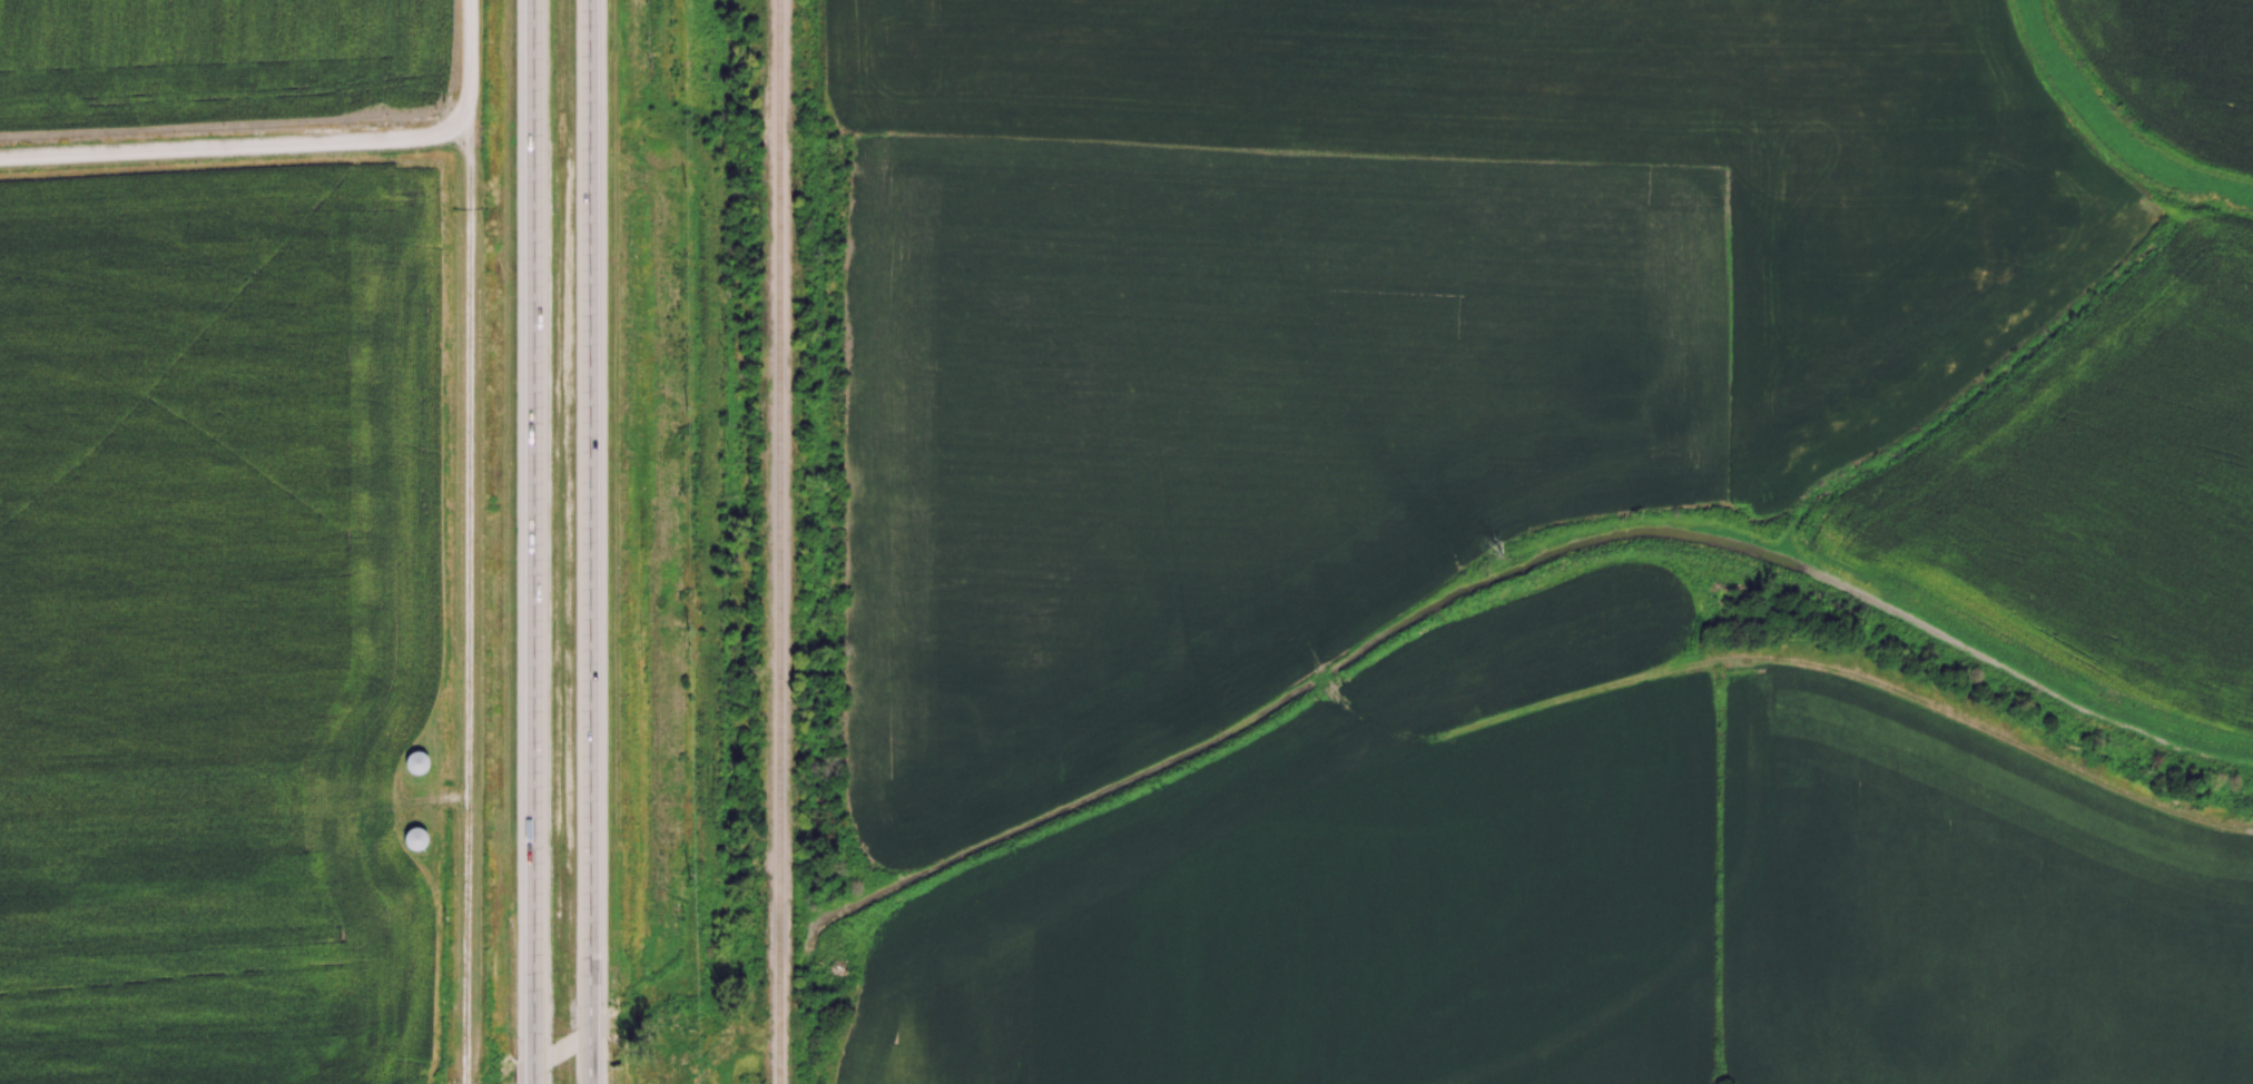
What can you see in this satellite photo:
road: (466, 68)
road: (233, 147)
railway: (779, 541)
road: (533, 542)
road: (590, 542)
road: (465, 609)
road: (466, 1082)

